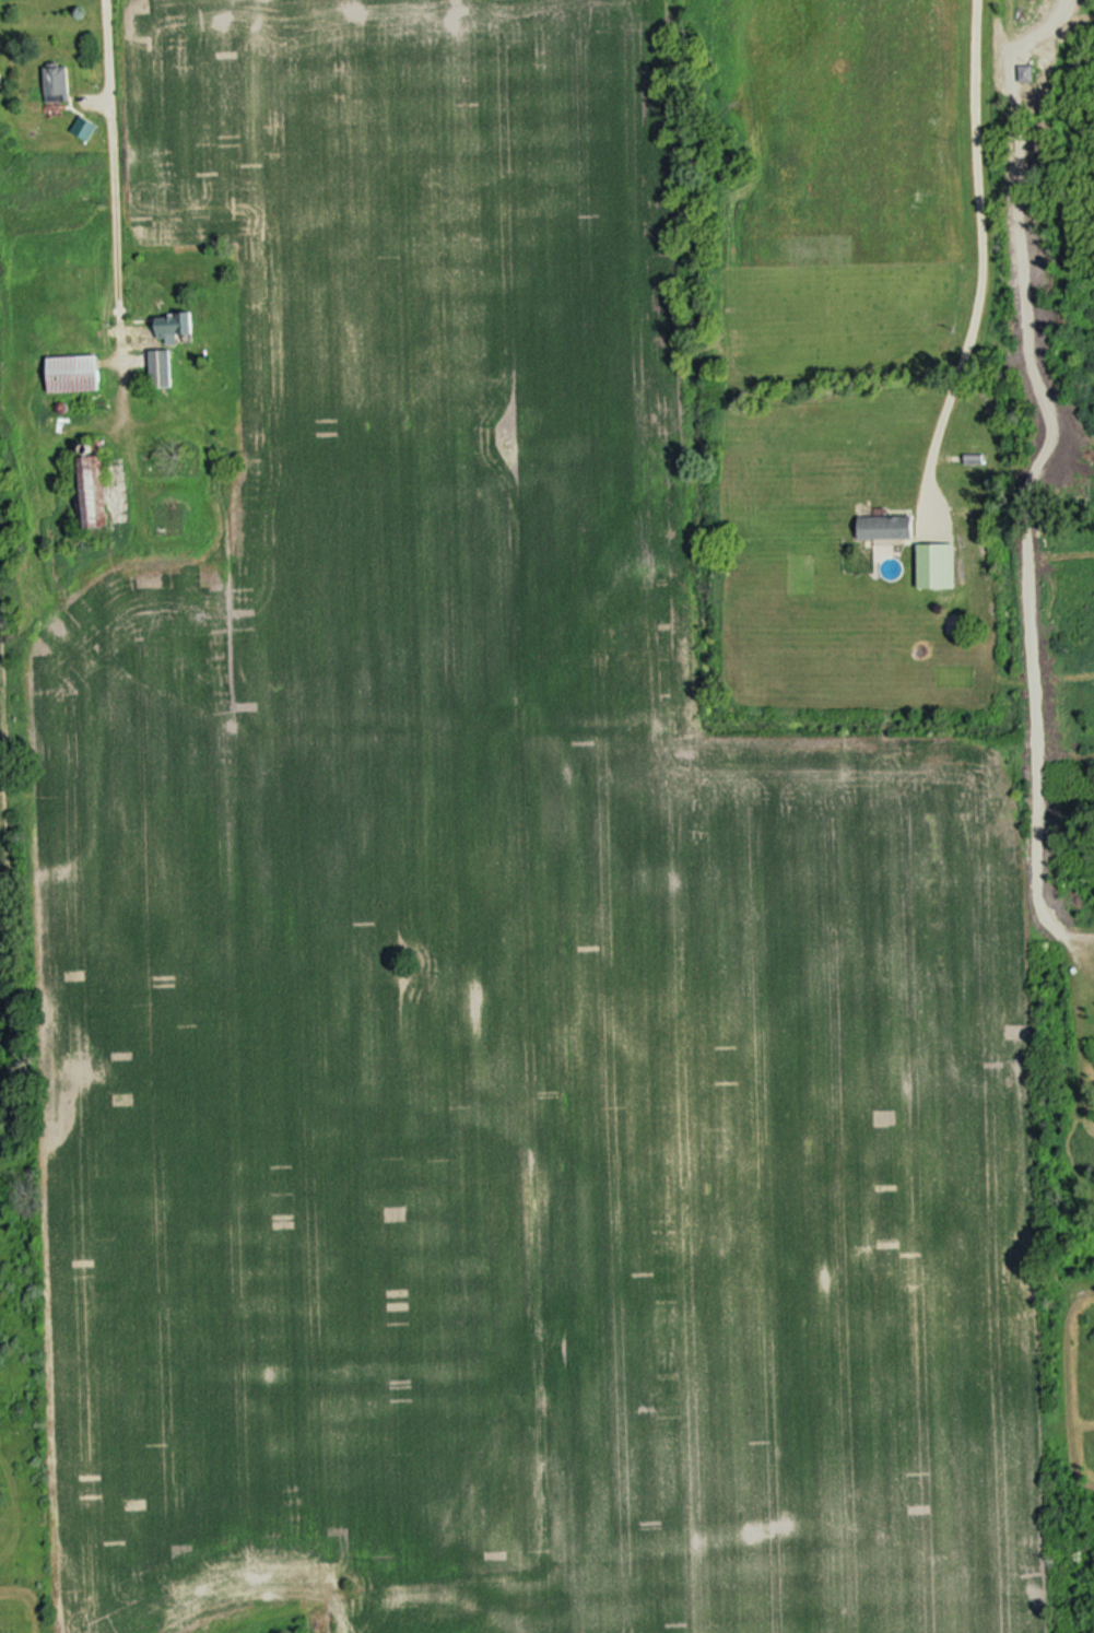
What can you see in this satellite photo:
building: (1026, 77)
building: (55, 81)
road: (122, 177)
road: (981, 250)
building: (172, 326)
building: (158, 368)
building: (71, 373)
building: (974, 461)
building: (87, 491)
building: (884, 527)

